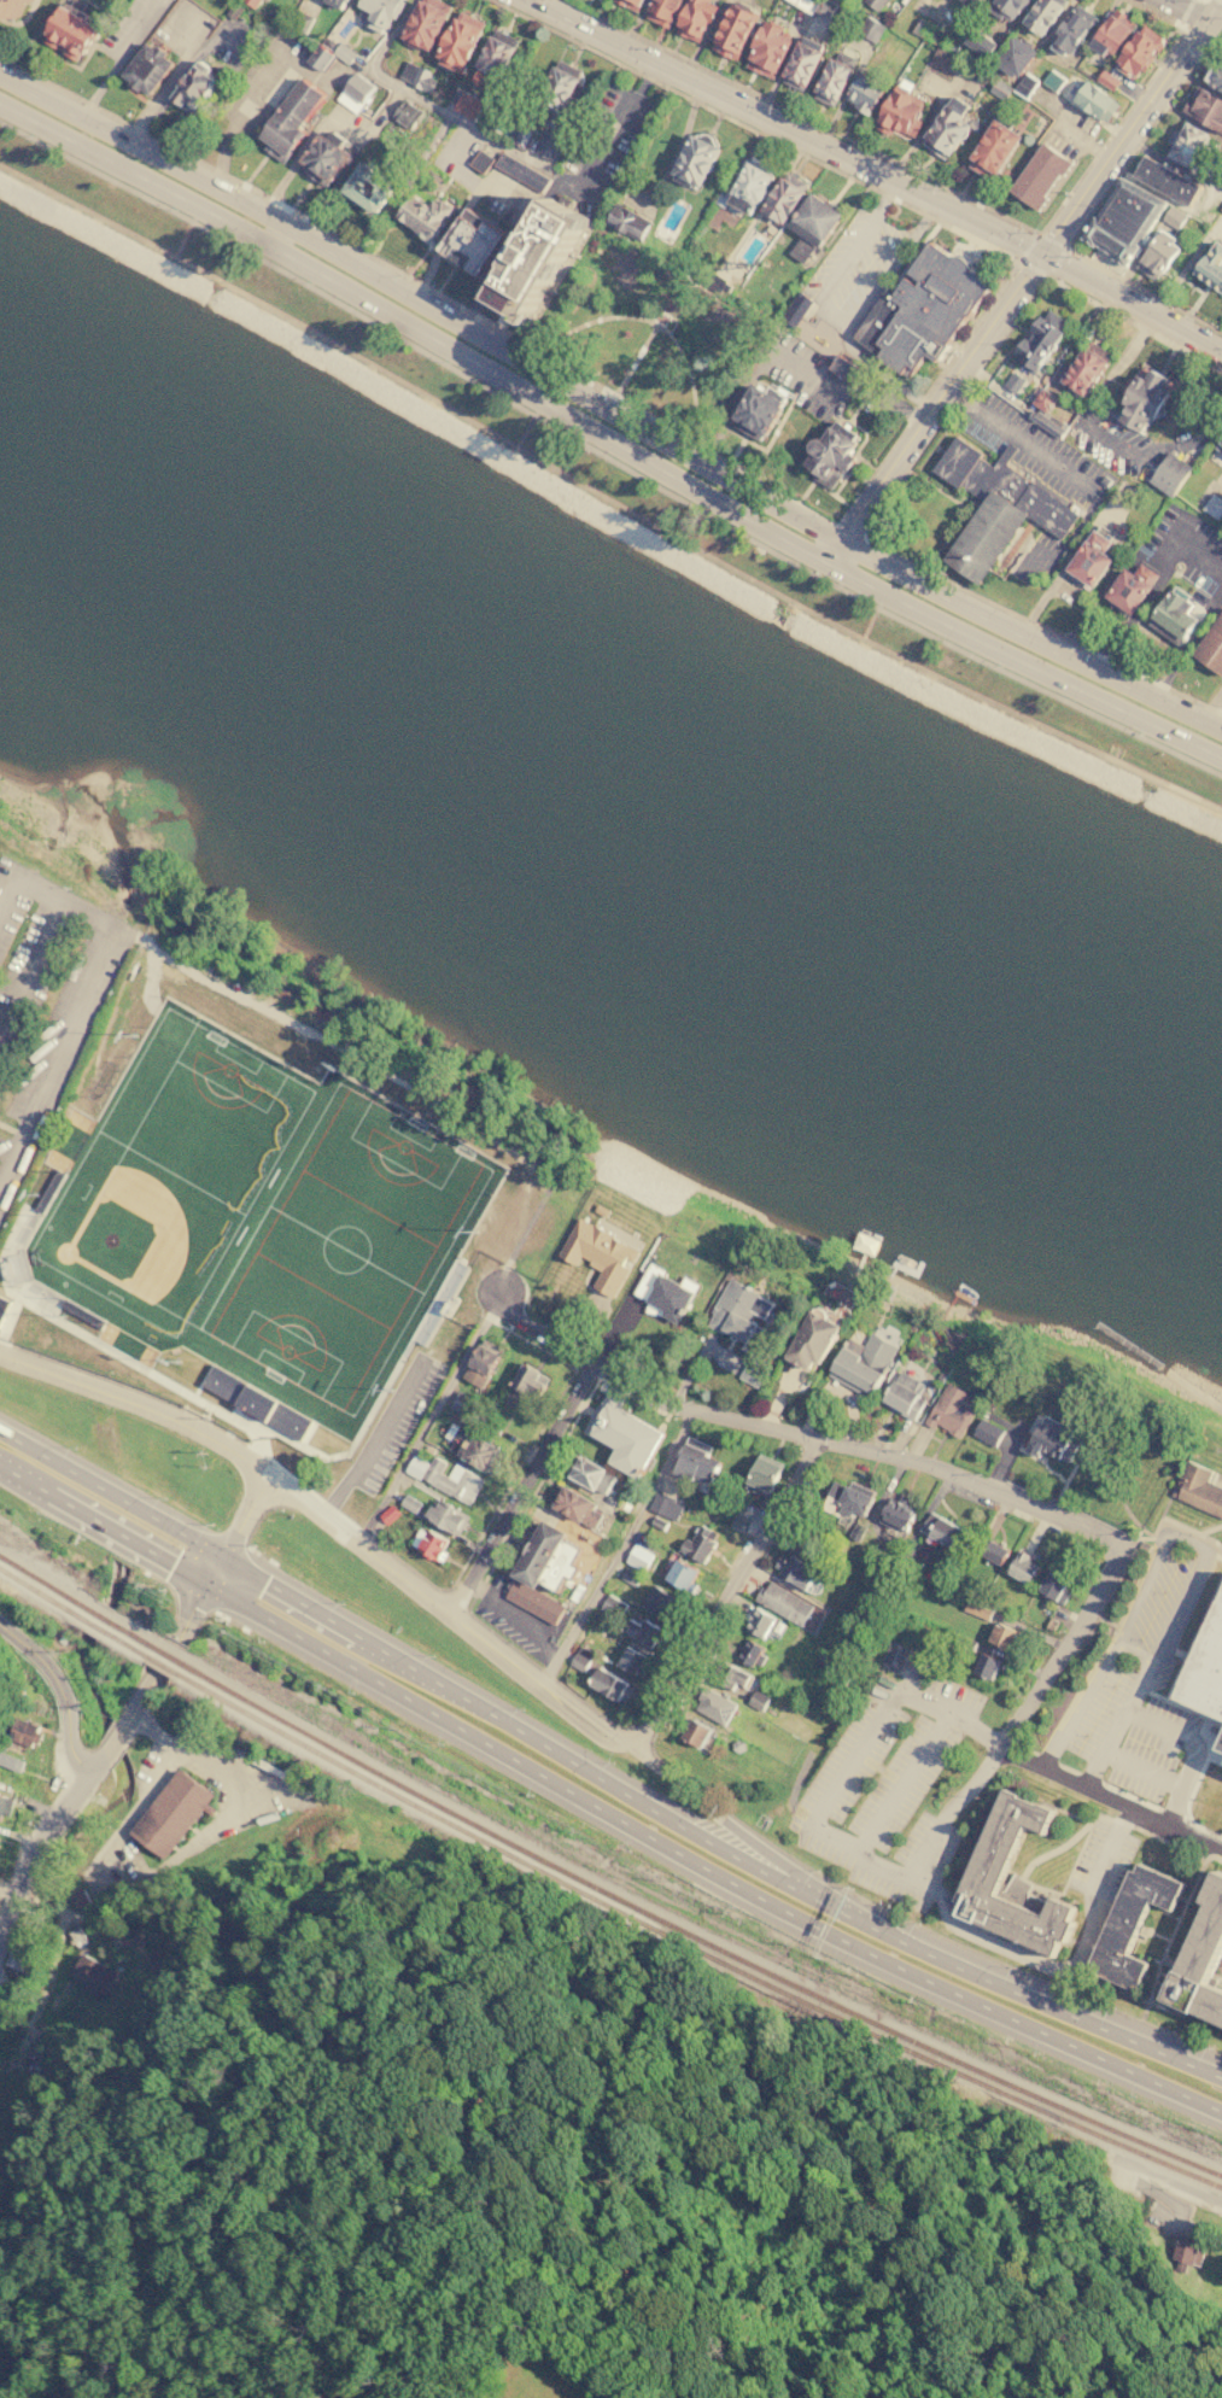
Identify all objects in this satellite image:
building: (28, 0)
building: (345, 0)
road: (1205, 0)
building: (251, 2)
building: (333, 2)
building: (628, 4)
building: (805, 4)
building: (873, 4)
building: (971, 4)
building: (10, 7)
building: (824, 7)
building: (1004, 8)
building: (234, 11)
building: (380, 12)
building: (661, 12)
road: (1194, 13)
building: (1041, 16)
building: (694, 17)
building: (299, 21)
building: (423, 23)
parking lot: (185, 28)
parking lot: (130, 29)
building: (871, 29)
building: (1070, 29)
building: (732, 31)
building: (928, 31)
building: (65, 33)
building: (1109, 34)
building: (457, 41)
parking lot: (228, 42)
building: (980, 42)
building: (767, 48)
building: (1135, 49)
building: (344, 53)
building: (1012, 57)
road: (119, 59)
building: (318, 59)
building: (493, 59)
building: (941, 59)
building: (802, 62)
building: (145, 69)
building: (409, 72)
building: (1214, 75)
building: (422, 81)
building: (1053, 81)
building: (1107, 81)
road: (168, 82)
building: (830, 82)
road: (171, 86)
building: (1024, 86)
building: (189, 87)
road: (399, 88)
building: (1000, 89)
building: (559, 92)
building: (355, 93)
building: (864, 93)
road: (253, 98)
building: (1094, 101)
building: (468, 105)
road: (1130, 105)
building: (1203, 107)
building: (407, 115)
building: (899, 115)
road: (800, 117)
road: (1136, 117)
road: (774, 118)
building: (288, 121)
road: (322, 122)
road: (612, 123)
building: (946, 129)
building: (521, 136)
building: (550, 145)
building: (1193, 147)
building: (993, 150)
building: (322, 157)
building: (480, 160)
building: (692, 162)
building: (521, 170)
building: (1037, 176)
building: (1165, 181)
building: (749, 183)
building: (364, 188)
road: (269, 199)
building: (782, 199)
building: (1221, 207)
road: (1089, 211)
building: (420, 216)
building: (671, 216)
building: (1173, 217)
building: (813, 220)
building: (626, 222)
building: (1122, 222)
road: (274, 236)
building: (476, 244)
road: (1046, 244)
road: (1029, 247)
road: (1064, 247)
building: (802, 250)
building: (1157, 256)
building: (536, 263)
road: (1031, 263)
building: (1211, 268)
road: (994, 294)
road: (1132, 300)
building: (795, 309)
building: (919, 311)
road: (834, 315)
road: (655, 322)
park: (647, 346)
building: (1035, 346)
road: (635, 359)
building: (1084, 369)
road: (873, 370)
building: (846, 372)
building: (1015, 381)
building: (1142, 402)
building: (755, 411)
road: (607, 413)
road: (919, 416)
road: (1097, 431)
road: (606, 440)
building: (1217, 452)
building: (829, 455)
road: (606, 458)
road: (1064, 469)
building: (1169, 474)
road: (893, 485)
road: (606, 499)
building: (1212, 505)
building: (994, 508)
road: (849, 530)
building: (1089, 560)
building: (1130, 589)
building: (1173, 619)
building: (1211, 648)
road: (1212, 710)
river: (610, 777)
road: (29, 970)
road: (150, 975)
road: (82, 993)
parking lot: (45, 1004)
road: (261, 1008)
park: (205, 1110)
road: (10, 1130)
road: (12, 1233)
park: (135, 1233)
park: (345, 1248)
building: (600, 1254)
pier: (863, 1257)
pier: (902, 1268)
road: (5, 1283)
building: (663, 1294)
pier: (954, 1294)
building: (2, 1306)
road: (7, 1318)
building: (741, 1320)
building: (809, 1339)
road: (531, 1343)
road: (1125, 1347)
building: (481, 1363)
building: (861, 1363)
road: (144, 1370)
building: (753, 1373)
road: (1171, 1378)
building: (528, 1380)
building: (904, 1396)
road: (1203, 1397)
road: (376, 1398)
building: (258, 1403)
building: (462, 1404)
building: (951, 1410)
road: (431, 1417)
parking lot: (390, 1428)
building: (492, 1428)
building: (987, 1433)
road: (795, 1434)
building: (624, 1439)
building: (1052, 1440)
park: (1206, 1440)
building: (478, 1452)
building: (694, 1462)
building: (589, 1474)
building: (761, 1476)
road: (1217, 1476)
building: (445, 1479)
road: (521, 1487)
building: (1199, 1488)
building: (847, 1501)
building: (409, 1504)
building: (574, 1507)
building: (666, 1507)
building: (896, 1515)
road: (340, 1516)
building: (388, 1516)
building: (445, 1516)
building: (738, 1522)
building: (659, 1523)
road: (1210, 1530)
building: (856, 1531)
building: (940, 1531)
road: (1187, 1538)
road: (1139, 1539)
building: (700, 1543)
building: (429, 1544)
road: (619, 1549)
road: (499, 1550)
building: (994, 1552)
road: (1210, 1556)
traffic signals: (221, 1557)
building: (544, 1557)
building: (638, 1557)
road: (1218, 1558)
building: (819, 1562)
building: (908, 1567)
building: (1021, 1567)
building: (793, 1571)
building: (680, 1575)
building: (630, 1578)
road: (236, 1581)
traffic signals: (205, 1586)
building: (1054, 1587)
road: (422, 1589)
road: (726, 1593)
railway: (76, 1601)
building: (536, 1602)
building: (990, 1603)
building: (661, 1604)
building: (787, 1604)
building: (613, 1606)
building: (977, 1610)
railway: (74, 1612)
road: (518, 1614)
building: (758, 1622)
building: (1051, 1625)
building: (643, 1632)
building: (1002, 1637)
road: (1193, 1637)
building: (965, 1643)
road: (185, 1645)
road: (1063, 1645)
building: (749, 1653)
railway: (168, 1655)
building: (895, 1655)
parking lot: (1132, 1656)
building: (580, 1657)
building: (630, 1659)
railway: (163, 1665)
building: (986, 1666)
building: (1206, 1671)
building: (729, 1674)
building: (609, 1684)
road: (59, 1691)
building: (758, 1700)
building: (713, 1707)
road: (134, 1708)
road: (1128, 1714)
road: (644, 1729)
building: (25, 1733)
building: (695, 1733)
building: (1221, 1748)
road: (1109, 1753)
road: (1195, 1754)
road: (1215, 1759)
building: (11, 1761)
road: (1147, 1771)
road: (602, 1772)
road: (899, 1782)
parking lot: (887, 1789)
road: (1110, 1800)
road: (1186, 1805)
building: (5, 1807)
road: (600, 1811)
building: (173, 1813)
road: (201, 1840)
parking lot: (1103, 1856)
road: (885, 1870)
building: (1012, 1883)
building: (1133, 1923)
road: (914, 1924)
railway: (690, 1944)
building: (19, 1957)
railway: (686, 1957)
building: (1201, 1961)
road: (1062, 1970)
building: (93, 1975)
road: (1167, 2178)
building: (1185, 2253)

